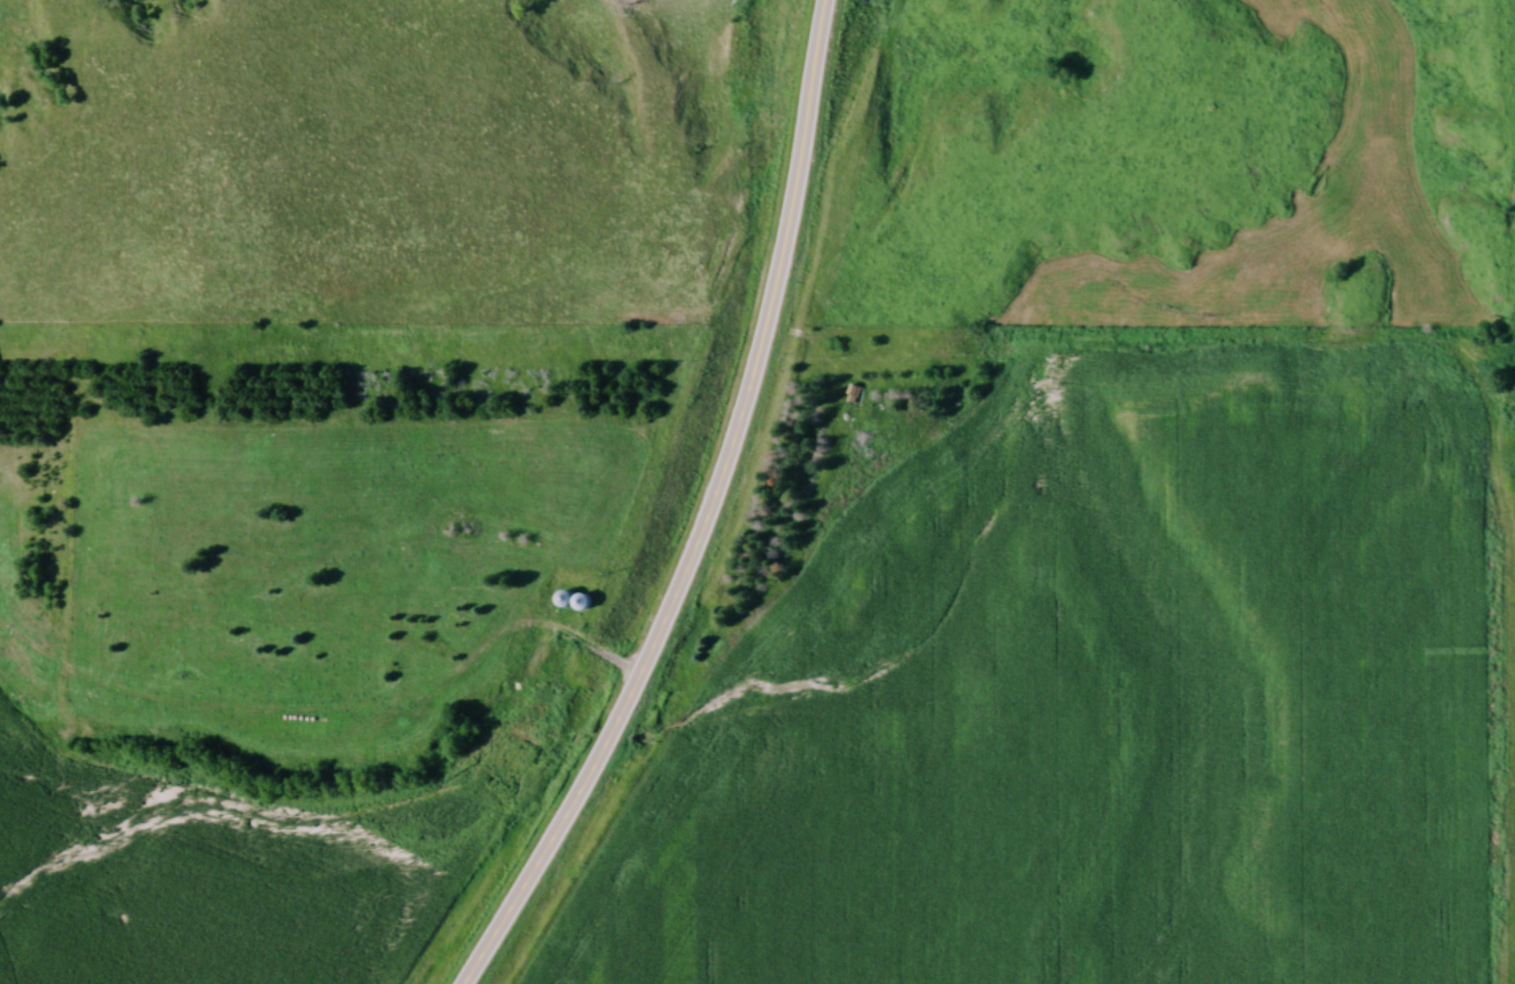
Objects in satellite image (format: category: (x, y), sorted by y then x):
road: (707, 514)
building: (566, 602)

